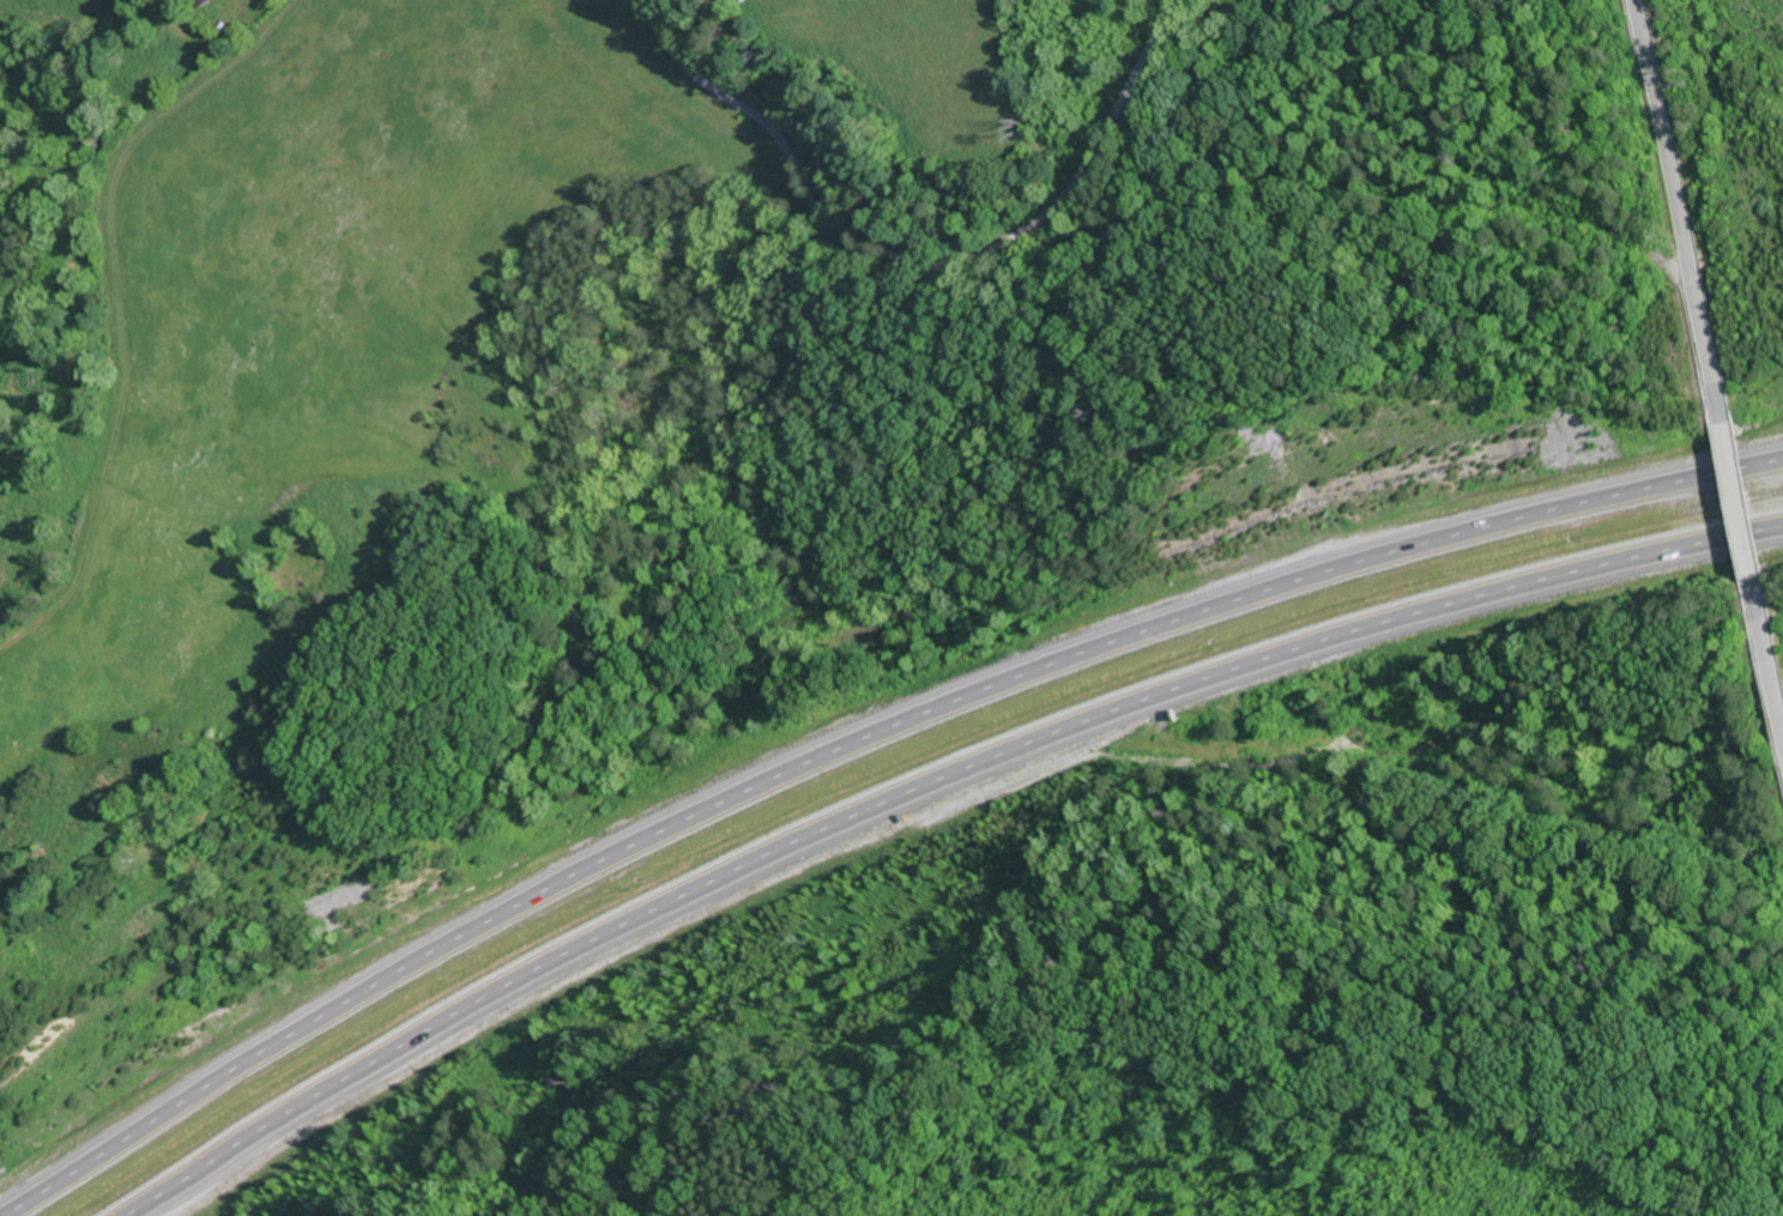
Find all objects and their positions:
road: (1679, 202)
road: (79, 294)
road: (1081, 301)
road: (1742, 509)
road: (1773, 661)
road: (852, 742)
road: (924, 792)

